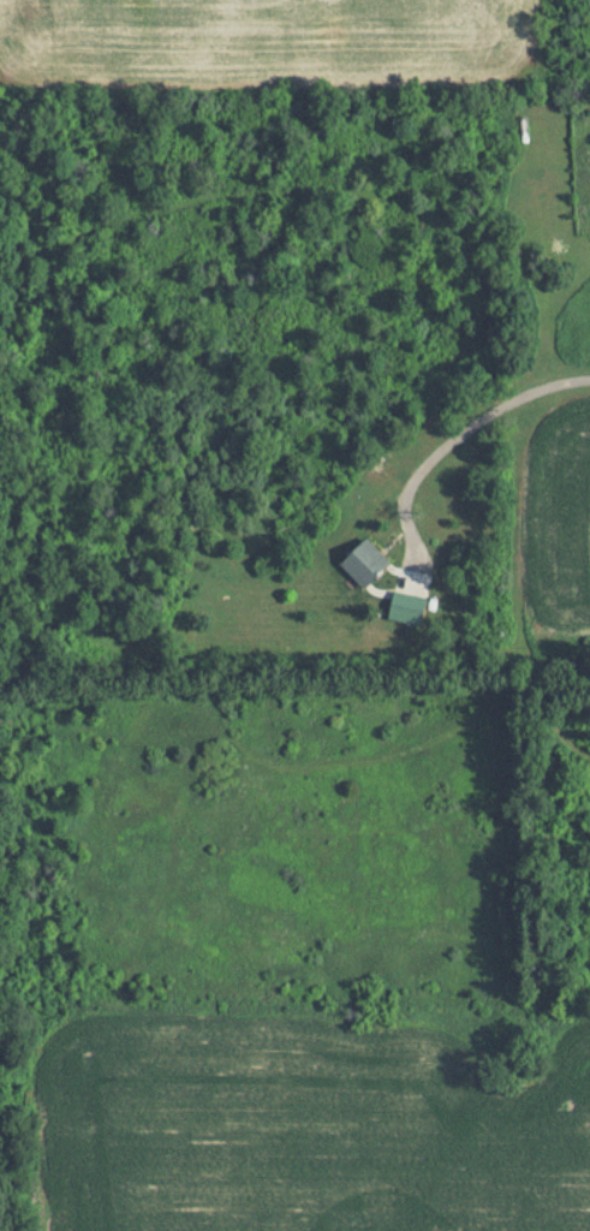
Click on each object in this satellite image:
road: (453, 441)
building: (365, 564)
building: (407, 609)

